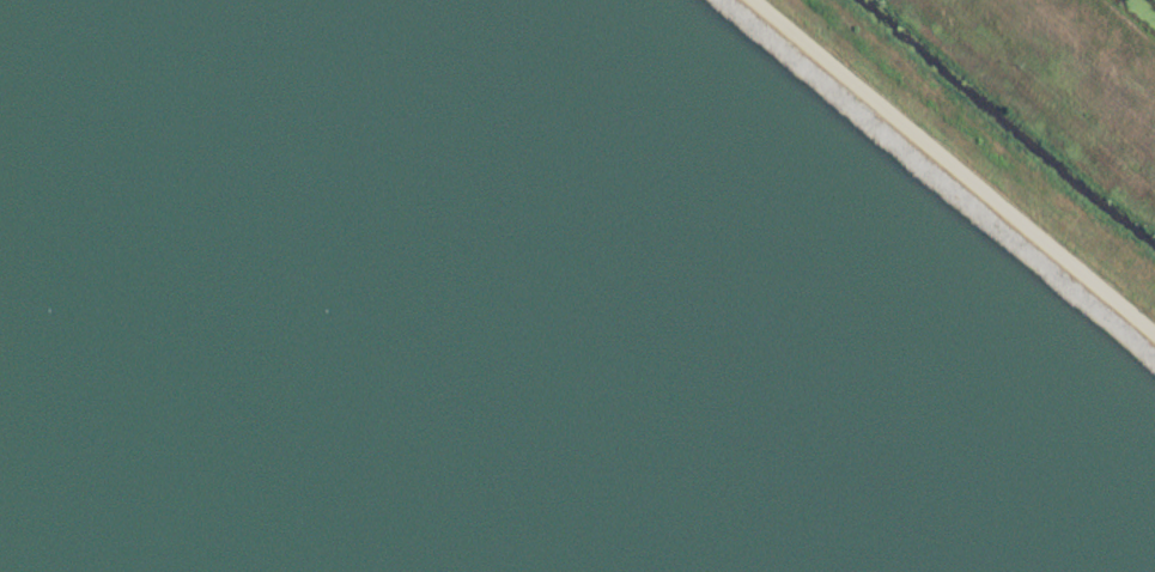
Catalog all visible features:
road: (956, 164)
wastewater plant: (577, 286)

